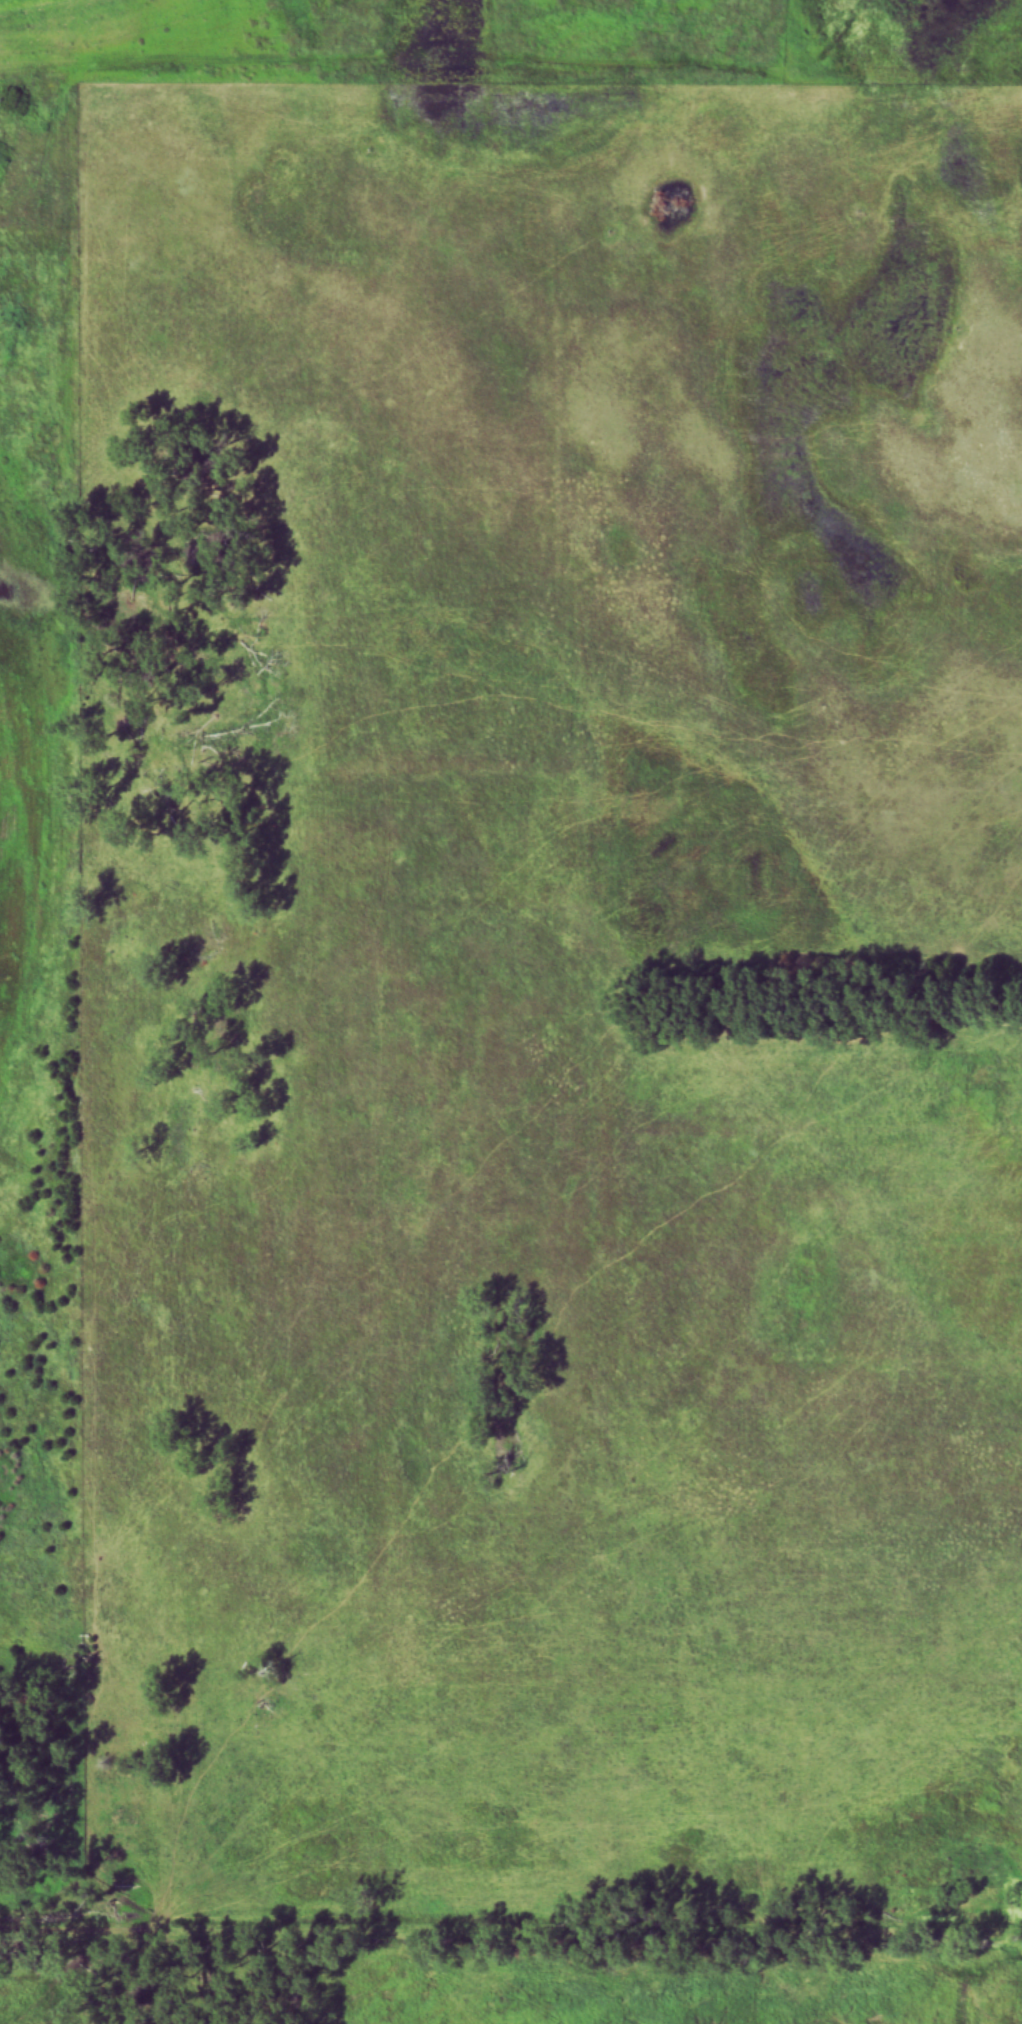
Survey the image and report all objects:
road: (510, 1934)

